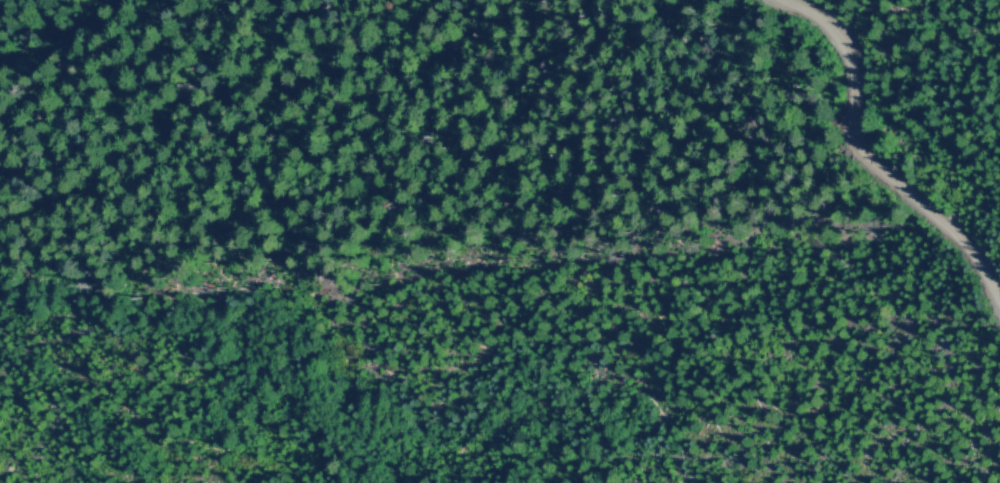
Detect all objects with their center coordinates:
road: (880, 158)

